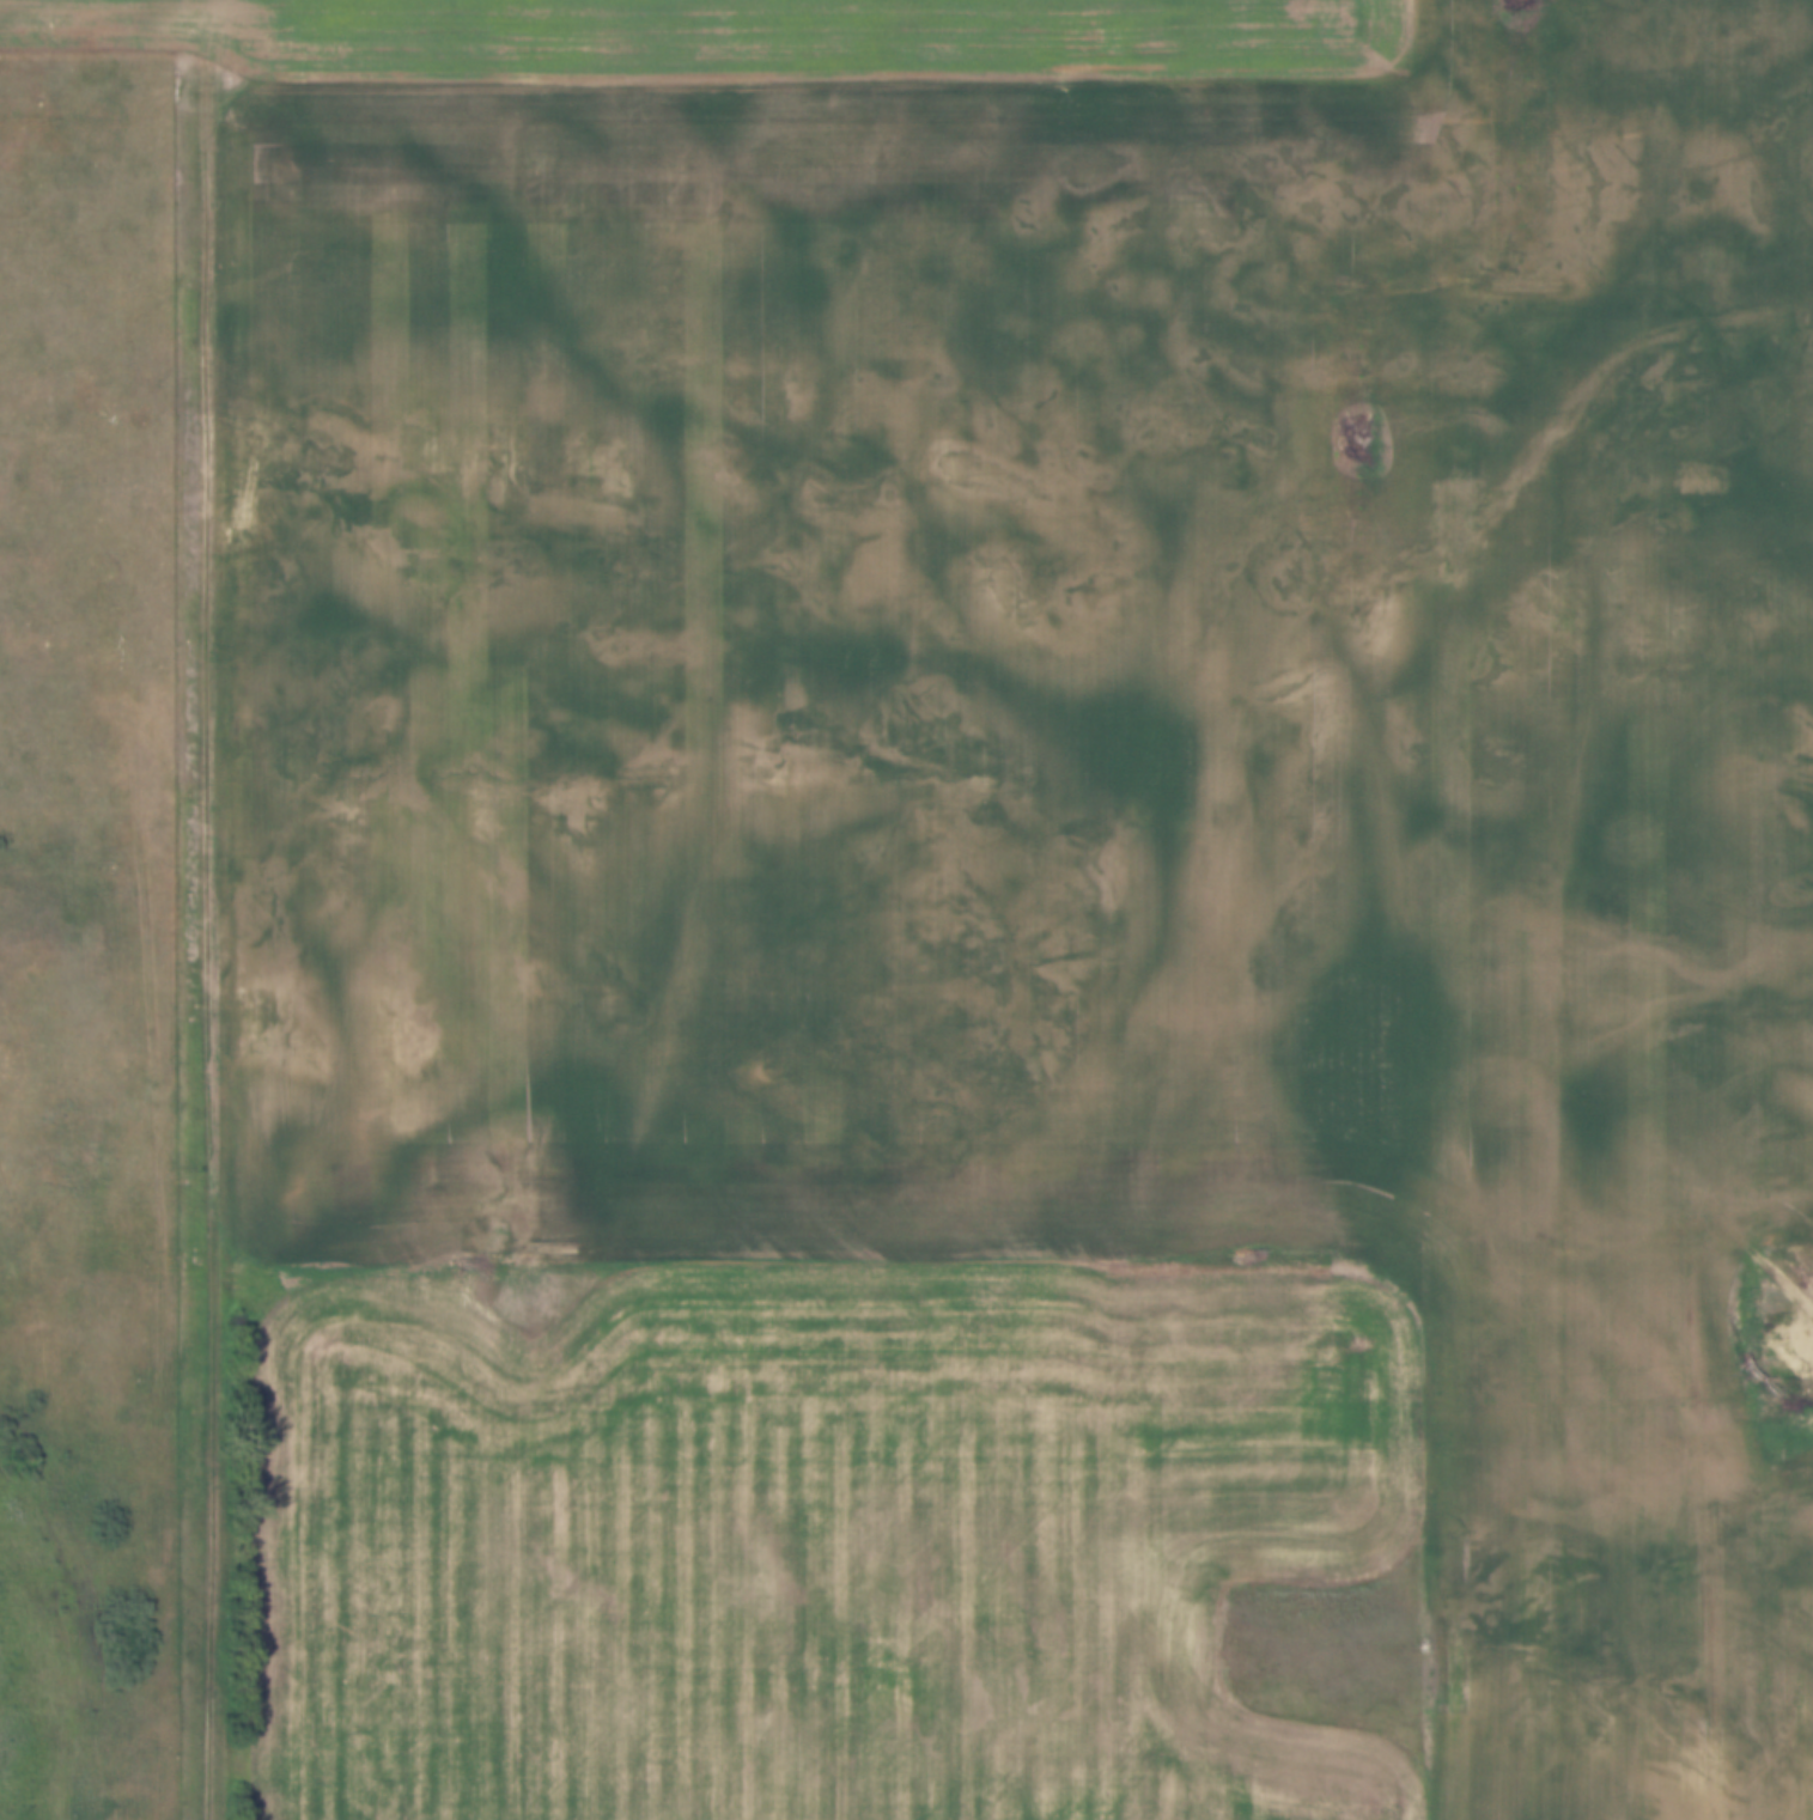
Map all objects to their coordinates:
road: (663, 65)
road: (1471, 887)
road: (209, 936)

